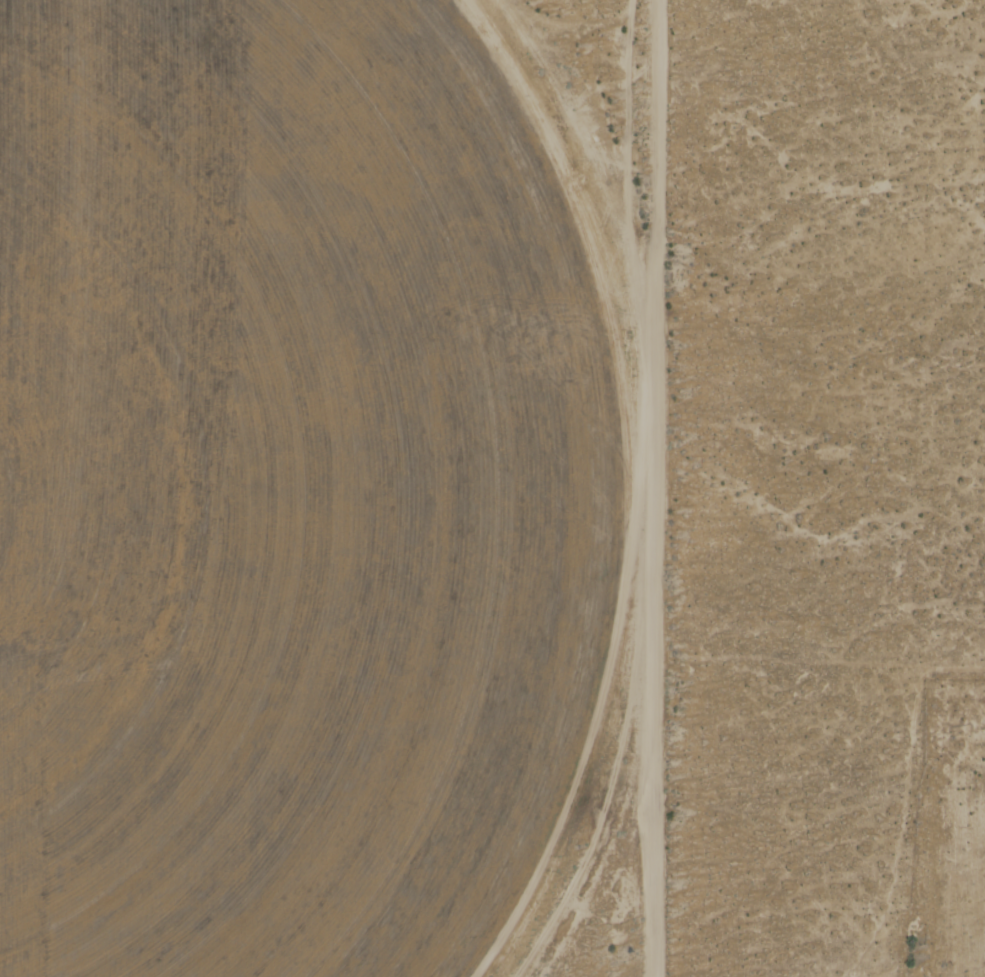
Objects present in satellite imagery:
crop: (254, 483)
road: (651, 488)

